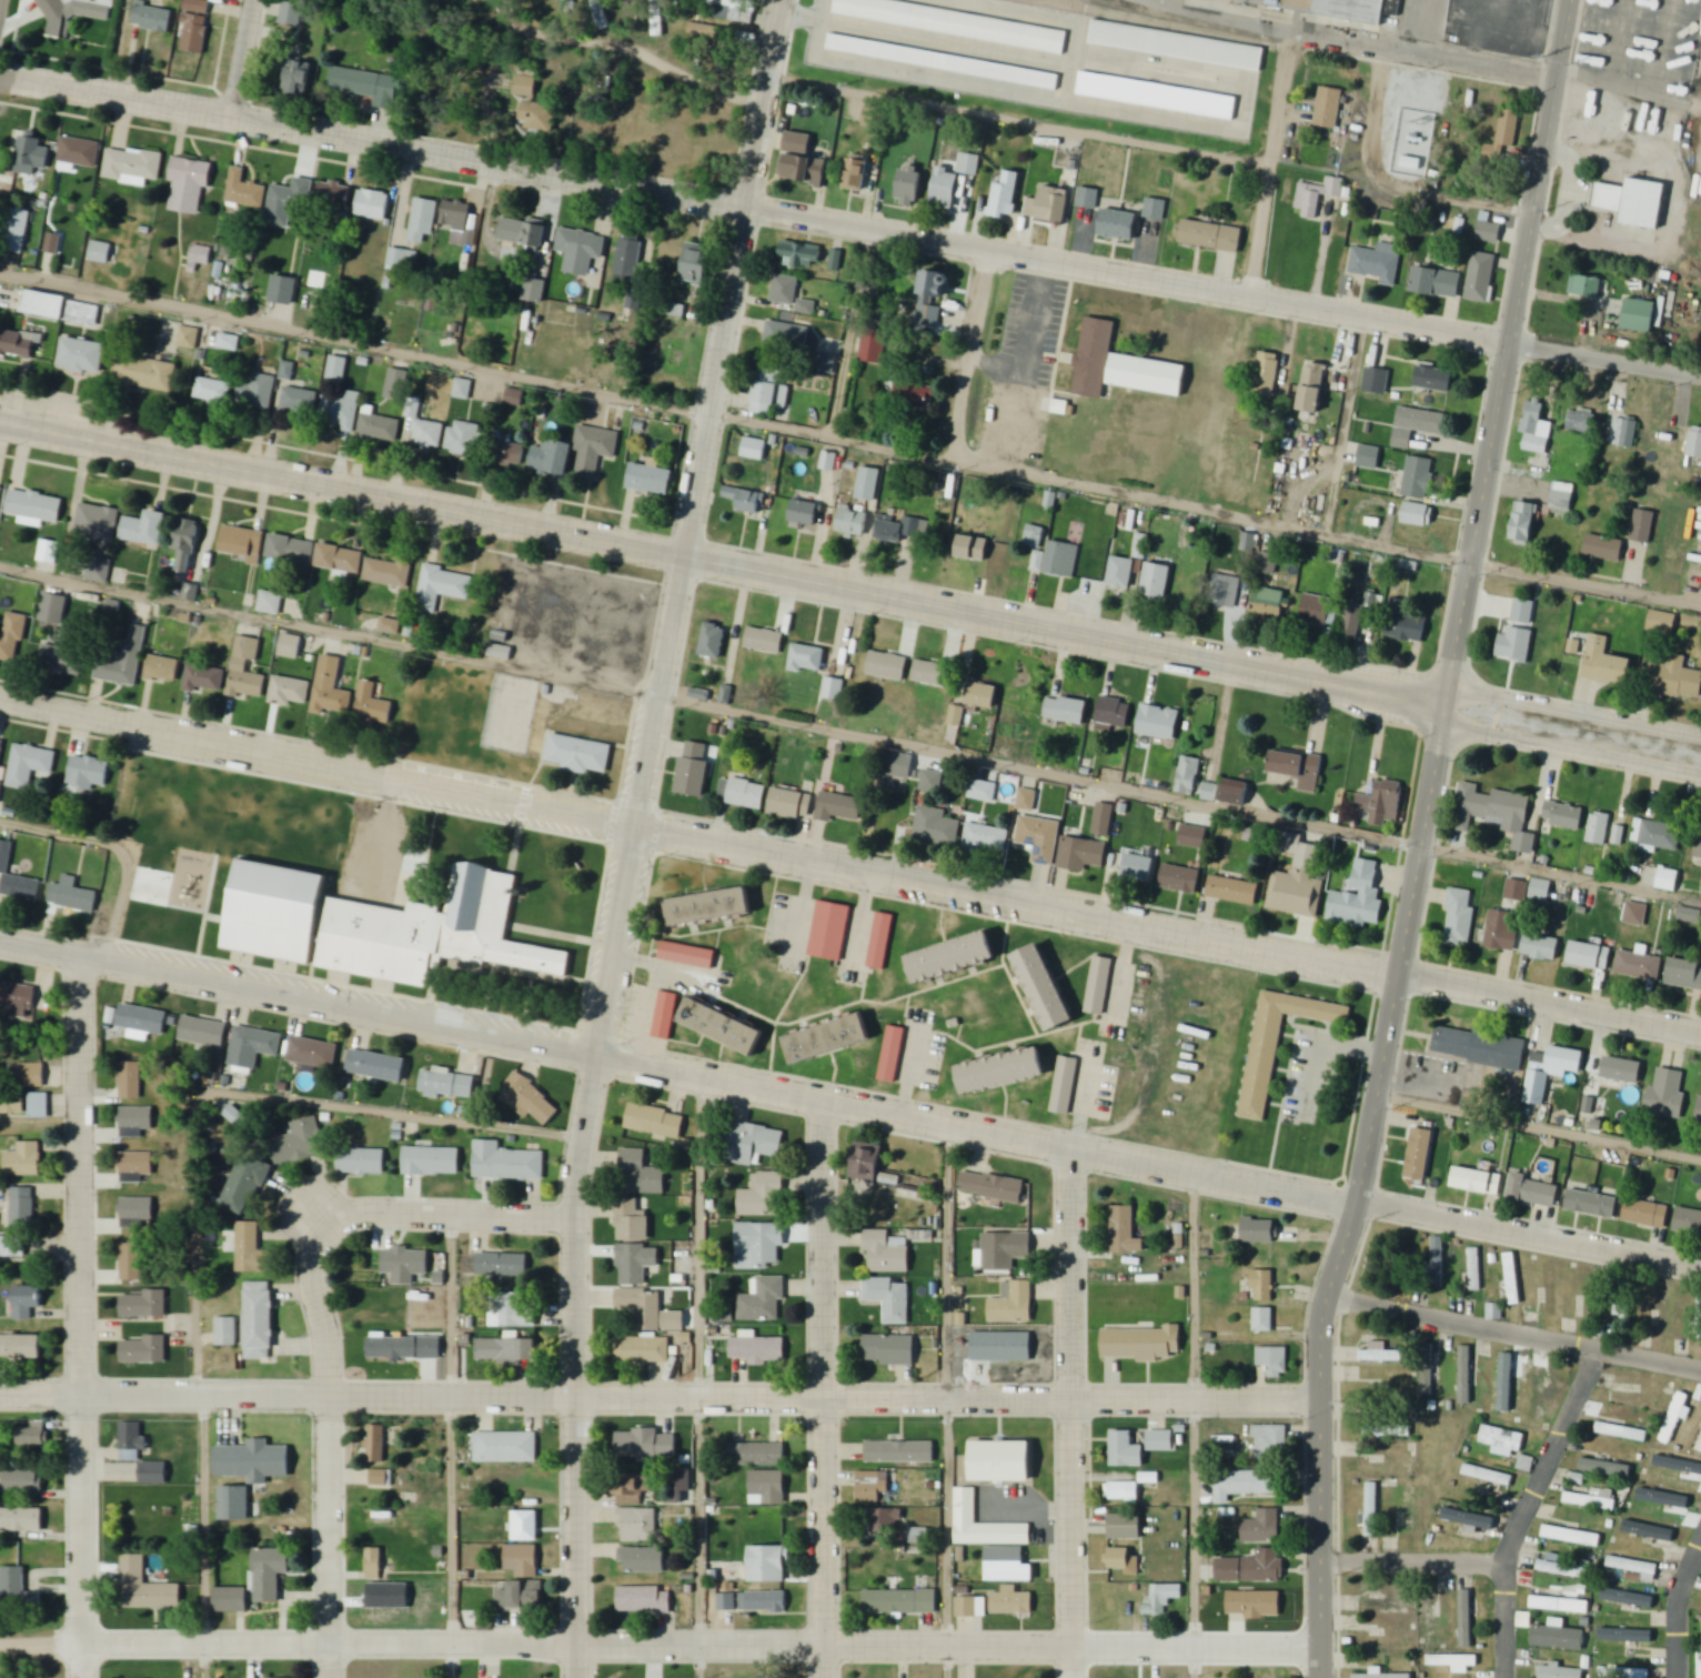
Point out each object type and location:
building: (1339, 7)
building: (733, 10)
building: (76, 13)
building: (291, 13)
building: (658, 13)
road: (1217, 18)
building: (152, 19)
building: (953, 23)
building: (195, 27)
building: (705, 31)
building: (1176, 46)
road: (118, 48)
road: (1426, 57)
road: (241, 59)
building: (940, 61)
building: (296, 79)
road: (1630, 81)
building: (365, 86)
building: (1155, 96)
building: (533, 107)
building: (1328, 108)
building: (1508, 128)
building: (77, 154)
building: (31, 157)
road: (1274, 165)
building: (131, 168)
building: (804, 170)
building: (856, 175)
building: (953, 182)
building: (189, 187)
building: (910, 187)
building: (244, 191)
building: (335, 197)
building: (1006, 197)
building: (1318, 198)
building: (1088, 199)
building: (288, 203)
building: (1055, 204)
building: (1643, 204)
building: (372, 205)
building: (1156, 210)
building: (455, 217)
building: (423, 222)
building: (1119, 224)
road: (850, 225)
building: (14, 232)
building: (1210, 232)
building: (1490, 233)
building: (535, 235)
building: (52, 244)
building: (580, 251)
building: (103, 254)
building: (798, 254)
building: (200, 255)
building: (402, 260)
building: (632, 262)
building: (697, 264)
building: (1377, 264)
building: (1481, 273)
road: (734, 278)
building: (387, 284)
building: (1437, 284)
building: (1586, 288)
building: (283, 291)
building: (784, 291)
building: (933, 297)
building: (62, 311)
building: (1639, 314)
road: (849, 332)
building: (782, 335)
building: (188, 339)
building: (228, 343)
building: (17, 345)
building: (873, 348)
road: (1509, 352)
road: (970, 354)
building: (303, 355)
building: (82, 356)
building: (1095, 359)
building: (286, 371)
building: (1147, 373)
building: (1266, 373)
building: (144, 374)
building: (1315, 376)
building: (1436, 381)
building: (1377, 382)
building: (396, 384)
building: (462, 389)
building: (213, 392)
building: (256, 392)
building: (771, 395)
building: (513, 396)
building: (916, 396)
building: (299, 402)
building: (340, 411)
building: (541, 413)
building: (1583, 416)
road: (736, 418)
road: (1347, 423)
building: (1417, 426)
building: (1536, 428)
building: (380, 429)
building: (1624, 432)
building: (427, 435)
building: (463, 440)
building: (1694, 444)
building: (593, 451)
building: (509, 453)
building: (552, 458)
building: (1369, 459)
building: (1419, 478)
building: (651, 480)
building: (867, 484)
building: (0, 492)
building: (1562, 496)
building: (745, 500)
building: (34, 508)
building: (805, 513)
building: (1417, 515)
building: (95, 523)
building: (854, 523)
building: (1524, 524)
building: (1644, 526)
building: (145, 530)
building: (897, 530)
building: (241, 542)
building: (185, 546)
building: (1604, 547)
building: (290, 550)
building: (48, 552)
building: (340, 560)
building: (1061, 560)
building: (1268, 564)
building: (1128, 567)
building: (389, 572)
road: (1587, 582)
building: (1156, 583)
road: (849, 587)
building: (441, 589)
building: (1225, 592)
building: (189, 593)
building: (270, 602)
building: (1270, 603)
building: (53, 611)
building: (1316, 611)
building: (1358, 616)
building: (1662, 623)
building: (1405, 624)
building: (389, 625)
building: (407, 631)
building: (12, 639)
building: (713, 642)
building: (764, 642)
building: (290, 647)
building: (807, 659)
building: (61, 660)
building: (123, 661)
building: (1607, 664)
building: (887, 667)
building: (163, 671)
building: (246, 672)
building: (930, 674)
building: (1675, 679)
building: (204, 681)
building: (833, 690)
building: (331, 691)
building: (290, 693)
building: (698, 694)
building: (726, 696)
building: (983, 696)
building: (373, 705)
road: (711, 705)
building: (1066, 712)
building: (1115, 714)
building: (958, 717)
building: (1159, 724)
building: (1, 751)
building: (578, 755)
building: (29, 766)
building: (902, 766)
building: (694, 770)
building: (1299, 770)
building: (88, 775)
building: (1188, 776)
building: (930, 782)
building: (0, 785)
building: (983, 792)
building: (1209, 792)
building: (743, 793)
building: (1235, 793)
building: (1380, 804)
building: (792, 805)
building: (839, 808)
building: (1496, 815)
building: (1563, 817)
building: (1103, 821)
building: (935, 828)
building: (1599, 830)
building: (1252, 836)
building: (1657, 836)
building: (1192, 837)
building: (1039, 838)
building: (986, 840)
road: (117, 848)
building: (1299, 853)
building: (1700, 854)
building: (1084, 855)
building: (1139, 870)
road: (848, 871)
road: (1561, 873)
building: (1178, 878)
building: (16, 880)
building: (1668, 881)
building: (1230, 890)
building: (1517, 891)
building: (1540, 891)
building: (72, 897)
building: (1359, 900)
building: (712, 908)
building: (1690, 916)
building: (1460, 918)
building: (380, 927)
building: (831, 932)
building: (1501, 932)
building: (880, 943)
building: (1541, 948)
building: (687, 955)
building: (1588, 956)
building: (955, 959)
building: (1639, 967)
building: (1684, 975)
building: (1099, 985)
building: (1046, 991)
building: (19, 998)
building: (665, 1015)
building: (141, 1022)
building: (724, 1026)
building: (202, 1032)
building: (828, 1038)
building: (1278, 1044)
building: (252, 1046)
building: (1480, 1048)
building: (312, 1053)
building: (893, 1054)
building: (1558, 1062)
building: (376, 1066)
building: (1620, 1068)
building: (1003, 1069)
building: (31, 1076)
building: (130, 1081)
building: (1065, 1084)
building: (447, 1085)
building: (1668, 1094)
road: (245, 1096)
building: (529, 1099)
building: (39, 1105)
road: (849, 1105)
road: (586, 1113)
building: (1699, 1113)
building: (1299, 1116)
building: (135, 1121)
building: (655, 1122)
road: (1541, 1125)
building: (299, 1143)
building: (753, 1144)
building: (1421, 1154)
building: (24, 1159)
building: (431, 1160)
building: (362, 1162)
building: (868, 1162)
building: (506, 1163)
building: (137, 1165)
building: (640, 1175)
building: (1476, 1179)
building: (244, 1185)
building: (992, 1186)
building: (1532, 1189)
road: (1362, 1192)
building: (763, 1196)
building: (1593, 1204)
building: (21, 1208)
road: (430, 1210)
building: (137, 1212)
building: (1645, 1213)
building: (633, 1220)
building: (1688, 1222)
building: (1260, 1230)
building: (1125, 1232)
building: (759, 1246)
building: (12, 1247)
building: (250, 1250)
building: (1006, 1250)
building: (885, 1253)
building: (1438, 1262)
building: (130, 1263)
building: (404, 1265)
building: (502, 1265)
building: (636, 1265)
building: (1476, 1269)
building: (1512, 1279)
building: (1261, 1284)
building: (1181, 1294)
building: (889, 1298)
building: (1421, 1299)
building: (26, 1302)
building: (763, 1302)
building: (144, 1305)
building: (1014, 1305)
building: (644, 1306)
building: (510, 1312)
building: (1622, 1315)
building: (1663, 1315)
road: (83, 1316)
building: (1698, 1317)
building: (1264, 1319)
building: (260, 1322)
road: (1514, 1332)
building: (225, 1333)
building: (1143, 1344)
building: (20, 1347)
building: (404, 1348)
building: (756, 1349)
building: (889, 1349)
building: (507, 1350)
building: (642, 1350)
building: (144, 1352)
building: (1382, 1355)
building: (1274, 1362)
building: (1427, 1375)
road: (699, 1376)
building: (1466, 1378)
road: (824, 1388)
building: (1502, 1388)
road: (660, 1395)
building: (1541, 1395)
road: (950, 1400)
road: (1071, 1413)
building: (1675, 1419)
road: (1195, 1424)
building: (1388, 1431)
building: (1622, 1433)
building: (33, 1437)
building: (1160, 1440)
building: (131, 1441)
building: (375, 1444)
building: (645, 1444)
building: (1269, 1444)
building: (1507, 1445)
building: (505, 1447)
building: (1126, 1449)
building: (900, 1453)
building: (755, 1455)
building: (253, 1460)
building: (1000, 1461)
road: (332, 1467)
building: (1397, 1468)
building: (1608, 1469)
building: (153, 1474)
building: (1488, 1476)
building: (380, 1479)
road: (453, 1479)
building: (22, 1481)
building: (1246, 1484)
building: (680, 1487)
building: (868, 1487)
building: (627, 1488)
building: (767, 1488)
building: (1123, 1491)
building: (1664, 1497)
building: (1593, 1499)
building: (233, 1503)
building: (1410, 1506)
building: (965, 1507)
road: (1527, 1507)
building: (1370, 1509)
building: (1466, 1518)
building: (21, 1520)
building: (885, 1520)
building: (638, 1525)
building: (1126, 1527)
building: (1261, 1527)
road: (205, 1536)
building: (1572, 1536)
building: (374, 1560)
building: (523, 1560)
building: (643, 1560)
building: (1123, 1560)
road: (1413, 1563)
building: (769, 1564)
building: (1008, 1565)
building: (1562, 1567)
building: (1634, 1567)
building: (1252, 1568)
building: (270, 1573)
building: (145, 1587)
building: (17, 1589)
building: (521, 1596)
building: (1624, 1598)
building: (230, 1599)
building: (644, 1600)
building: (763, 1601)
building: (1013, 1601)
building: (1161, 1601)
building: (726, 1602)
building: (900, 1602)
building: (381, 1605)
building: (1388, 1605)
building: (1560, 1605)
building: (972, 1607)
building: (1251, 1608)
road: (1679, 1610)
building: (1466, 1618)
building: (1524, 1620)
building: (1430, 1625)
building: (1558, 1638)
building: (1386, 1640)
building: (1624, 1640)
road: (661, 1645)
building: (1453, 1662)
building: (1699, 1665)
building: (1562, 1671)
building: (1625, 1672)
building: (1380, 1674)
building: (1113, 1677)

